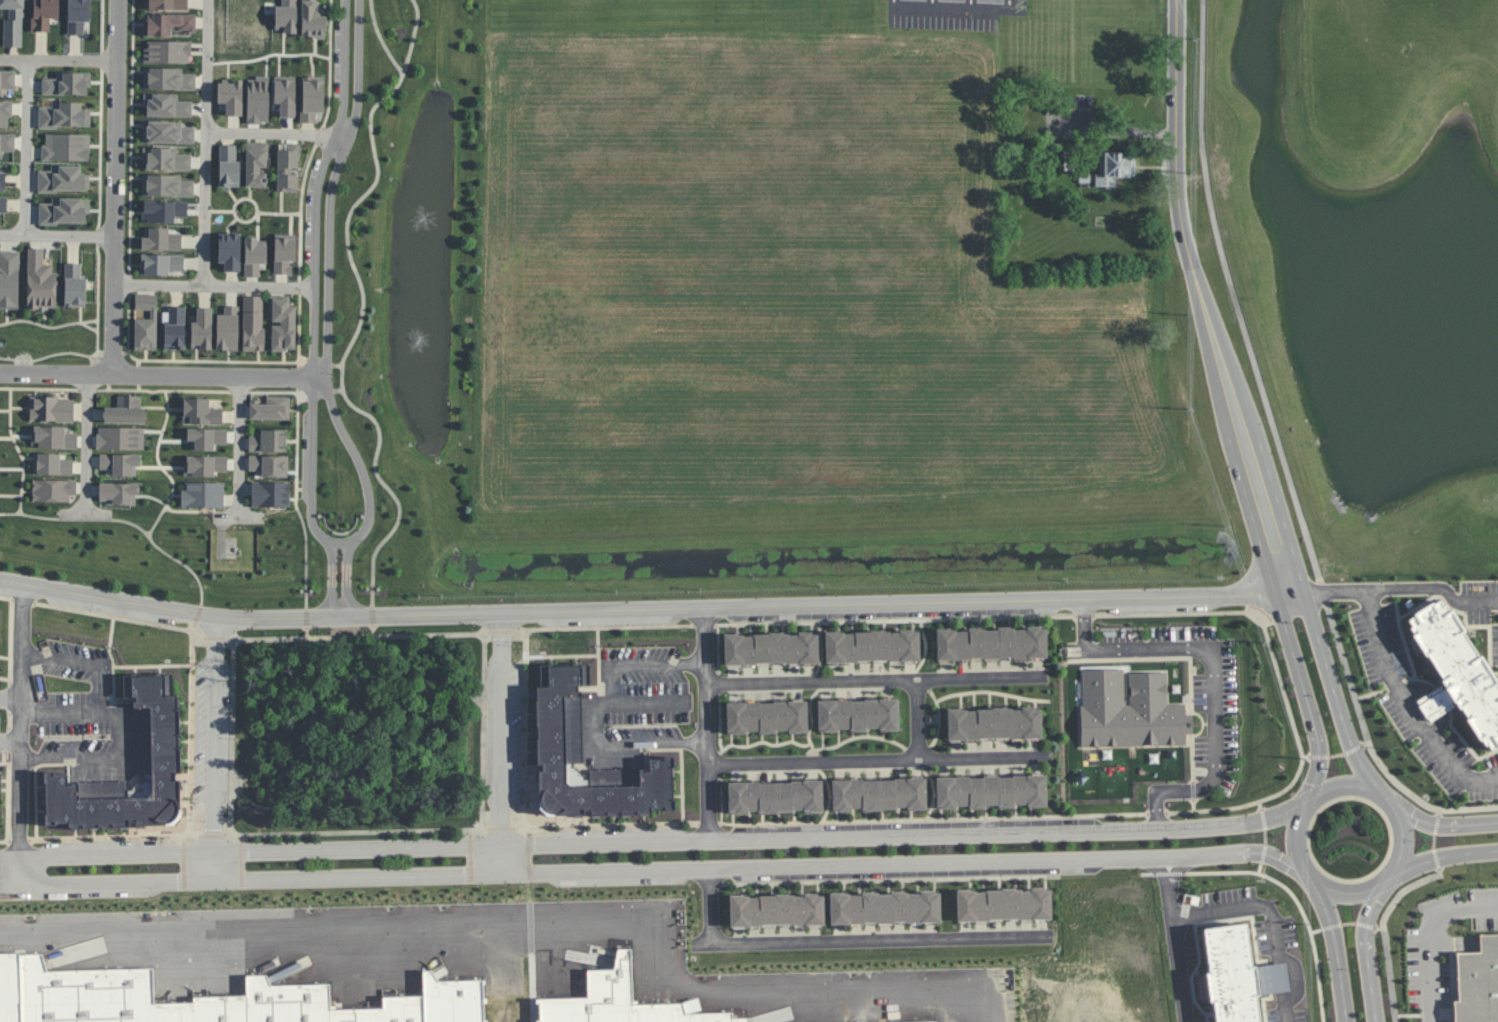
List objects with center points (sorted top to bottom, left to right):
road: (893, 2)
building: (166, 3)
road: (1011, 3)
road: (971, 4)
road: (952, 9)
building: (45, 14)
building: (77, 14)
parking lot: (957, 14)
building: (286, 16)
building: (314, 18)
road: (133, 19)
building: (13, 22)
building: (168, 24)
road: (103, 26)
road: (381, 40)
building: (171, 49)
road: (314, 54)
parking lot: (339, 58)
road: (59, 61)
road: (103, 61)
road: (329, 65)
building: (173, 76)
building: (10, 81)
building: (70, 82)
building: (285, 95)
building: (230, 96)
building: (258, 100)
building: (312, 100)
building: (171, 104)
building: (9, 113)
building: (64, 115)
road: (1114, 128)
building: (171, 131)
road: (277, 133)
road: (320, 137)
building: (9, 142)
road: (206, 143)
building: (66, 147)
road: (27, 148)
road: (102, 149)
building: (169, 158)
road: (131, 159)
building: (230, 164)
building: (258, 164)
building: (284, 167)
building: (1115, 168)
building: (63, 179)
building: (1, 180)
building: (169, 183)
road: (116, 187)
road: (248, 198)
building: (3, 207)
building: (166, 210)
building: (68, 211)
road: (204, 211)
road: (222, 211)
road: (302, 211)
parking lot: (311, 213)
road: (279, 214)
fountain: (404, 224)
road: (58, 235)
road: (100, 235)
building: (162, 237)
building: (231, 249)
building: (284, 254)
building: (254, 256)
building: (163, 267)
building: (12, 278)
building: (40, 280)
building: (75, 286)
road: (131, 286)
road: (215, 287)
road: (300, 288)
road: (1202, 301)
road: (98, 305)
road: (363, 307)
road: (313, 310)
road: (327, 314)
building: (145, 322)
building: (253, 325)
building: (230, 326)
building: (282, 326)
road: (48, 327)
road: (90, 328)
building: (175, 328)
road: (128, 330)
building: (202, 330)
road: (299, 331)
road: (125, 353)
road: (101, 354)
road: (112, 354)
road: (45, 357)
road: (99, 358)
road: (303, 358)
road: (93, 362)
road: (218, 362)
road: (140, 363)
road: (319, 363)
road: (337, 365)
road: (105, 371)
fountain: (404, 373)
road: (1258, 374)
road: (139, 375)
road: (163, 375)
road: (94, 377)
road: (299, 380)
road: (109, 387)
road: (139, 388)
road: (39, 389)
road: (87, 390)
road: (162, 391)
road: (338, 391)
road: (239, 392)
road: (273, 393)
road: (315, 393)
building: (52, 408)
road: (169, 408)
building: (201, 408)
building: (272, 409)
road: (5, 411)
building: (125, 411)
building: (53, 437)
building: (120, 438)
building: (206, 438)
building: (269, 441)
road: (87, 444)
road: (240, 447)
road: (19, 450)
parking lot: (307, 455)
building: (51, 464)
building: (204, 465)
building: (271, 465)
building: (53, 489)
building: (122, 489)
building: (269, 490)
building: (204, 493)
road: (297, 501)
road: (86, 514)
road: (32, 516)
road: (240, 519)
road: (155, 523)
road: (339, 541)
road: (164, 552)
parking lot: (1, 586)
road: (1331, 593)
road: (1437, 593)
parking lot: (1157, 604)
road: (643, 609)
parking lot: (885, 611)
road: (373, 616)
road: (104, 617)
road: (307, 617)
parking lot: (608, 617)
road: (1087, 617)
road: (196, 620)
road: (898, 621)
road: (706, 627)
road: (605, 629)
road: (373, 631)
road: (307, 632)
road: (502, 632)
road: (486, 634)
road: (352, 637)
road: (218, 639)
building: (991, 643)
road: (924, 644)
road: (10, 645)
building: (870, 646)
building: (769, 649)
road: (562, 656)
road: (130, 665)
road: (599, 667)
road: (358, 672)
road: (1215, 672)
building: (1457, 676)
road: (878, 681)
road: (1280, 684)
road: (116, 687)
road: (818, 689)
road: (992, 692)
road: (1334, 693)
road: (435, 694)
road: (1305, 696)
road: (11, 699)
road: (1436, 704)
road: (597, 709)
road: (1409, 709)
road: (62, 714)
road: (116, 714)
building: (763, 715)
building: (857, 715)
road: (939, 718)
building: (1138, 718)
road: (919, 719)
building: (993, 723)
road: (708, 724)
building: (554, 725)
road: (524, 730)
parking lot: (213, 731)
park: (359, 732)
road: (21, 734)
building: (154, 734)
parking lot: (505, 738)
road: (10, 740)
road: (764, 740)
road: (501, 743)
road: (215, 748)
road: (825, 748)
road: (1356, 749)
road: (1336, 756)
road: (1315, 758)
road: (681, 760)
road: (883, 760)
road: (314, 769)
road: (1397, 781)
road: (672, 783)
building: (0, 787)
building: (991, 790)
building: (877, 794)
building: (772, 797)
road: (8, 802)
road: (1262, 805)
road: (1160, 813)
road: (937, 818)
road: (1264, 819)
road: (1437, 821)
road: (709, 824)
road: (1440, 825)
road: (604, 826)
road: (486, 827)
parking lot: (914, 828)
road: (502, 829)
road: (360, 832)
road: (228, 833)
road: (471, 834)
road: (213, 836)
parking lot: (620, 836)
road: (1265, 837)
road: (242, 839)
road: (1434, 841)
road: (655, 842)
road: (167, 844)
parking lot: (101, 849)
road: (1263, 853)
road: (1443, 856)
road: (471, 861)
road: (1436, 861)
road: (242, 866)
road: (1261, 868)
road: (658, 870)
parking lot: (910, 870)
road: (1201, 873)
parking lot: (623, 877)
road: (1373, 887)
road: (1170, 889)
parking lot: (75, 891)
road: (1402, 892)
building: (1005, 904)
building: (883, 906)
road: (711, 907)
building: (774, 910)
road: (1274, 917)
road: (544, 925)
road: (1349, 925)
road: (1331, 926)
road: (1366, 926)
road: (1380, 928)
road: (1316, 931)
road: (1311, 936)
road: (1425, 937)
road: (874, 940)
road: (1367, 950)
road: (1337, 951)
road: (1180, 972)
building: (1238, 972)
road: (1389, 975)
road: (1298, 978)
building: (1477, 982)
building: (23, 986)
building: (105, 994)
building: (617, 997)
building: (471, 1000)
building: (306, 1002)
building: (223, 1010)
building: (421, 1010)
building: (669, 1014)
building: (710, 1014)
building: (376, 1016)
building: (758, 1021)

